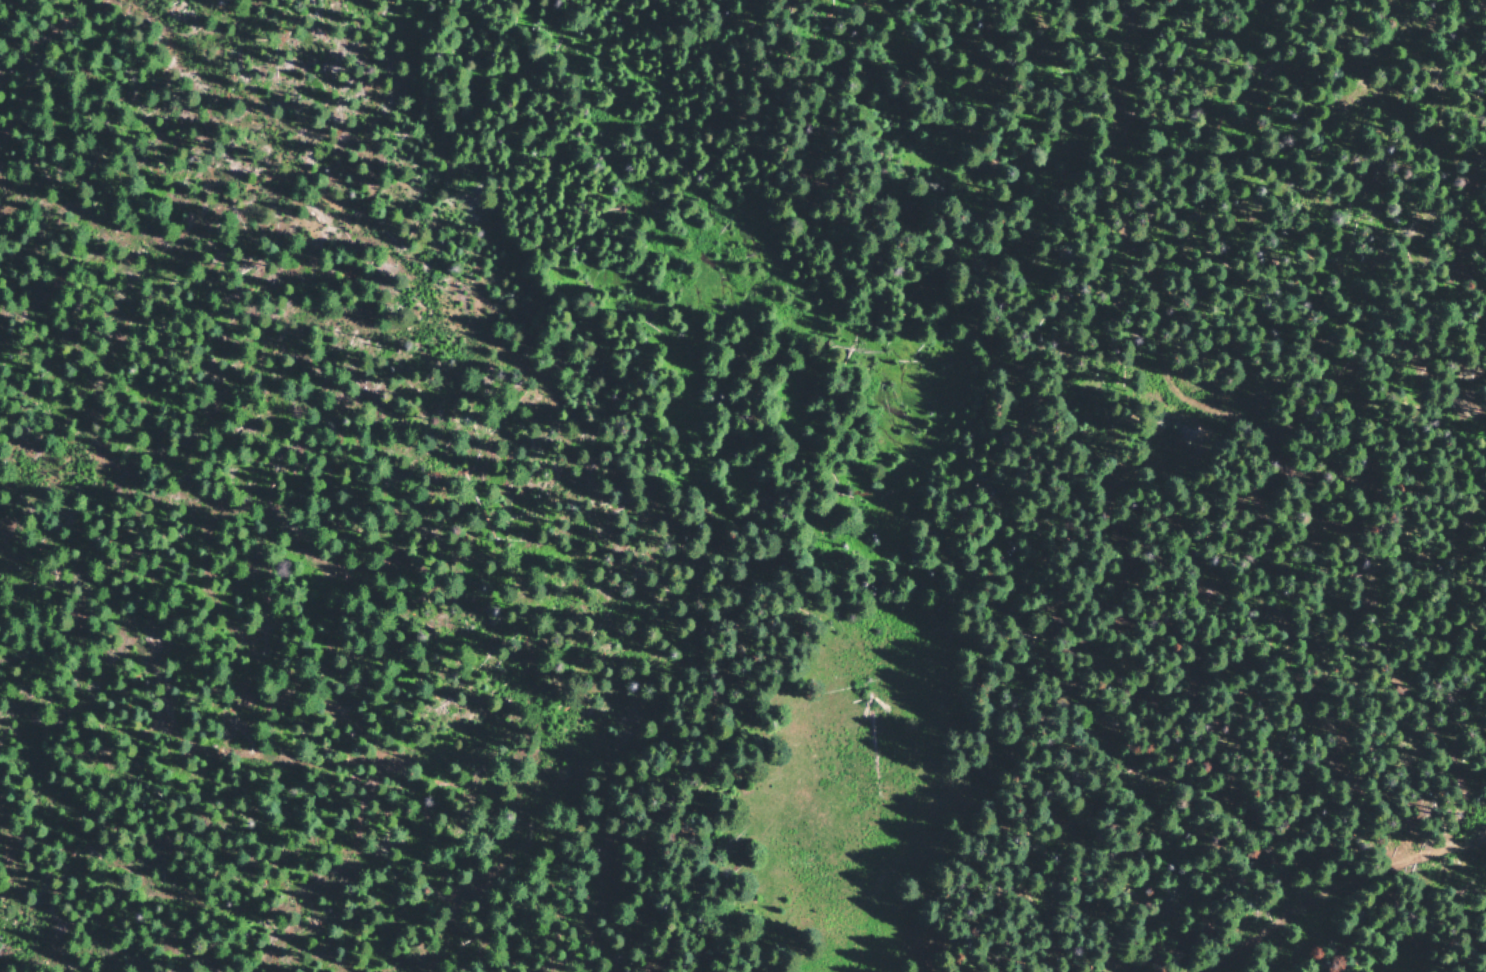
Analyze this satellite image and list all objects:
road: (1181, 784)

